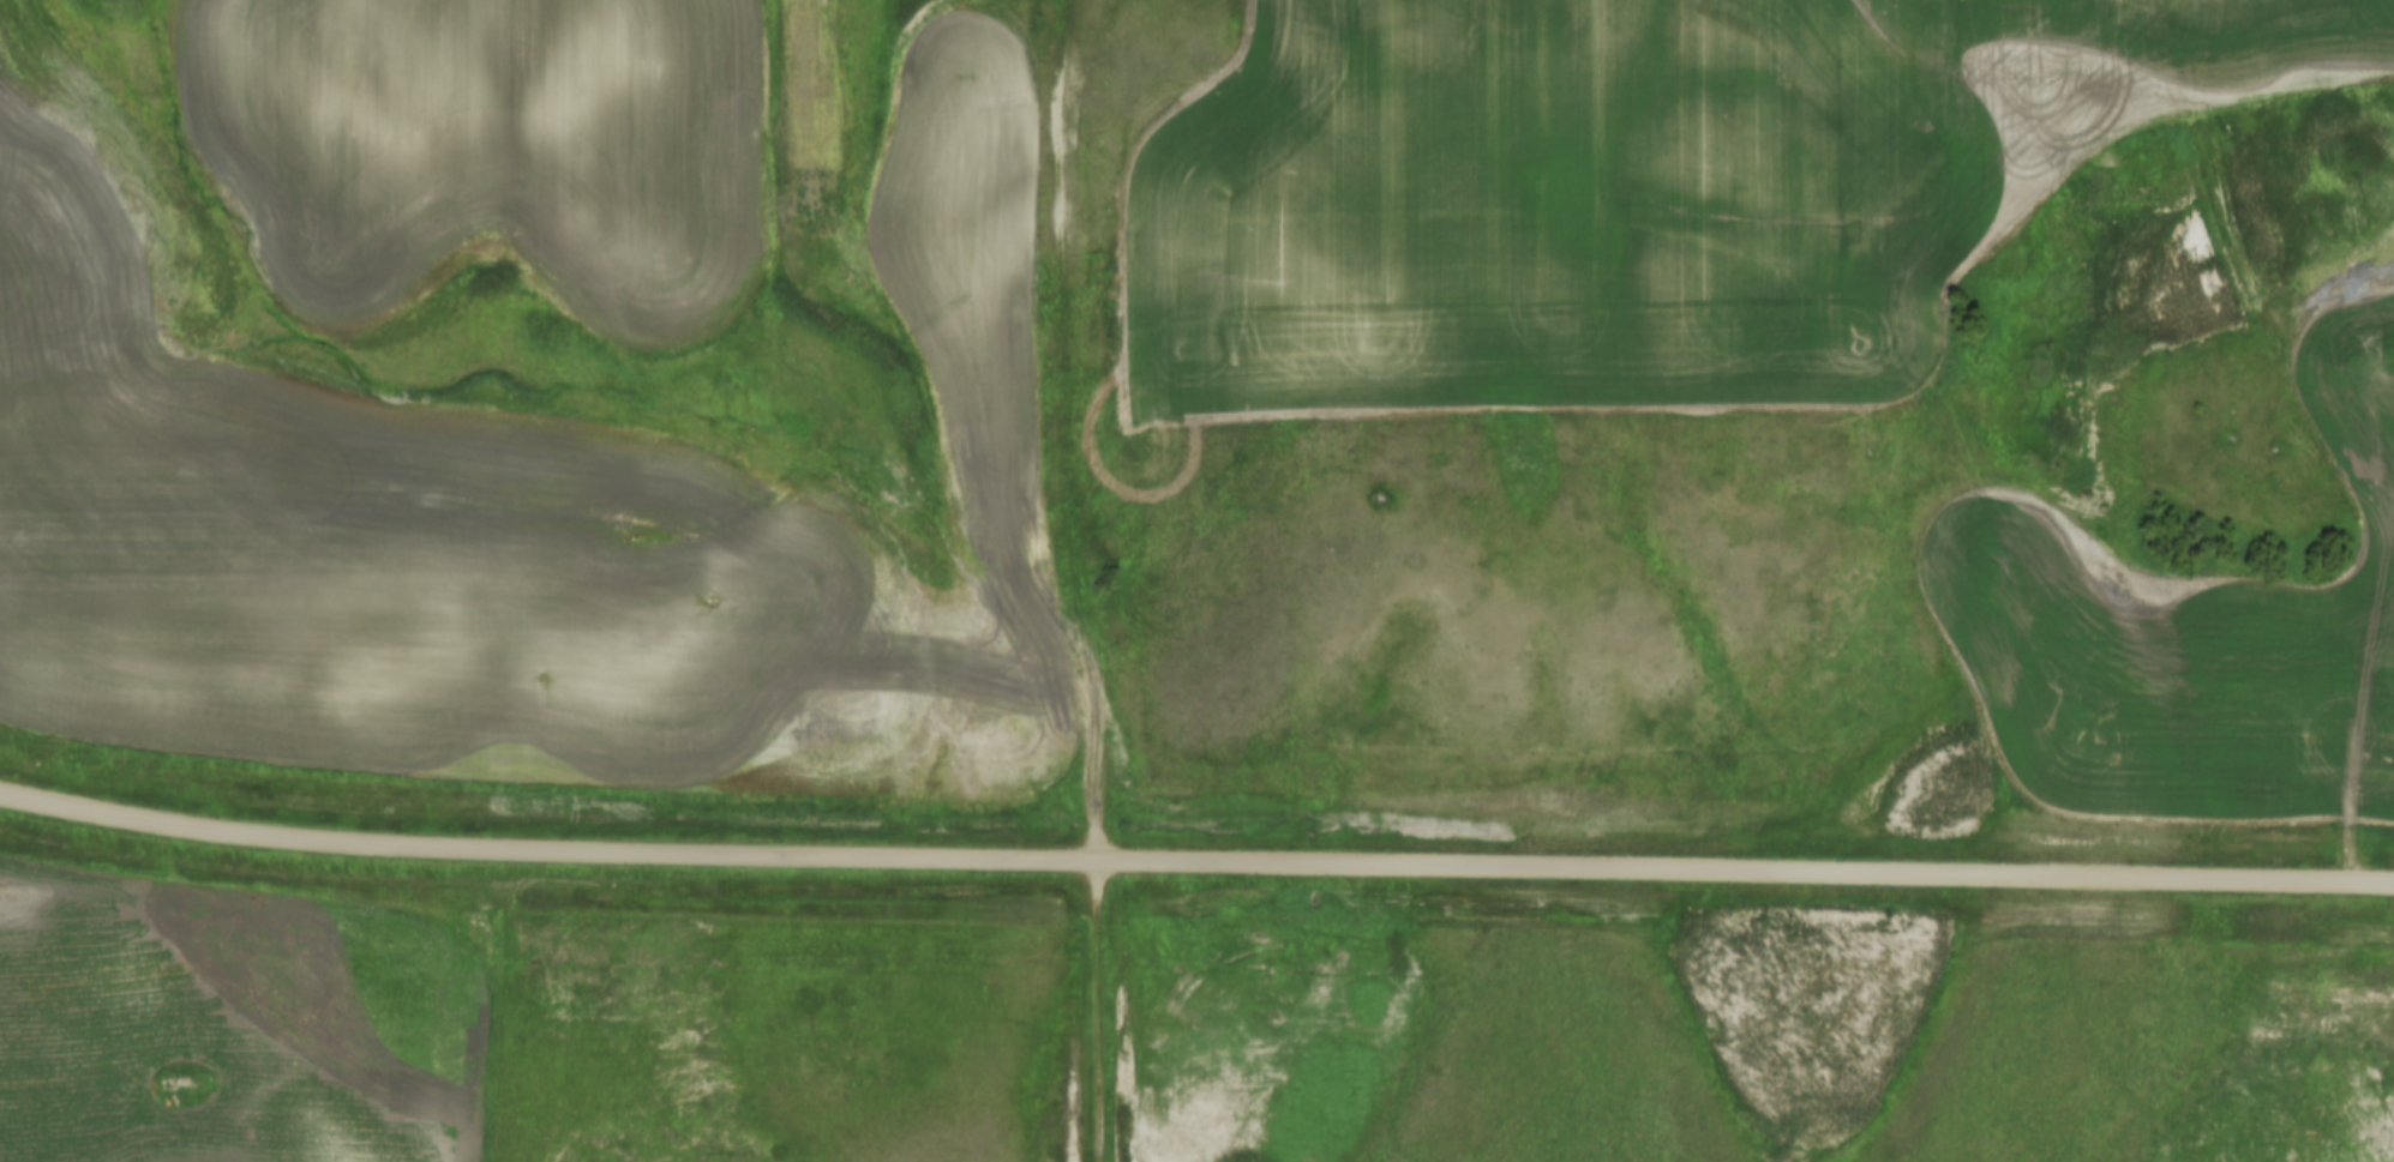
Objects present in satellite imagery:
road: (547, 856)
road: (1746, 873)
road: (1099, 1015)

